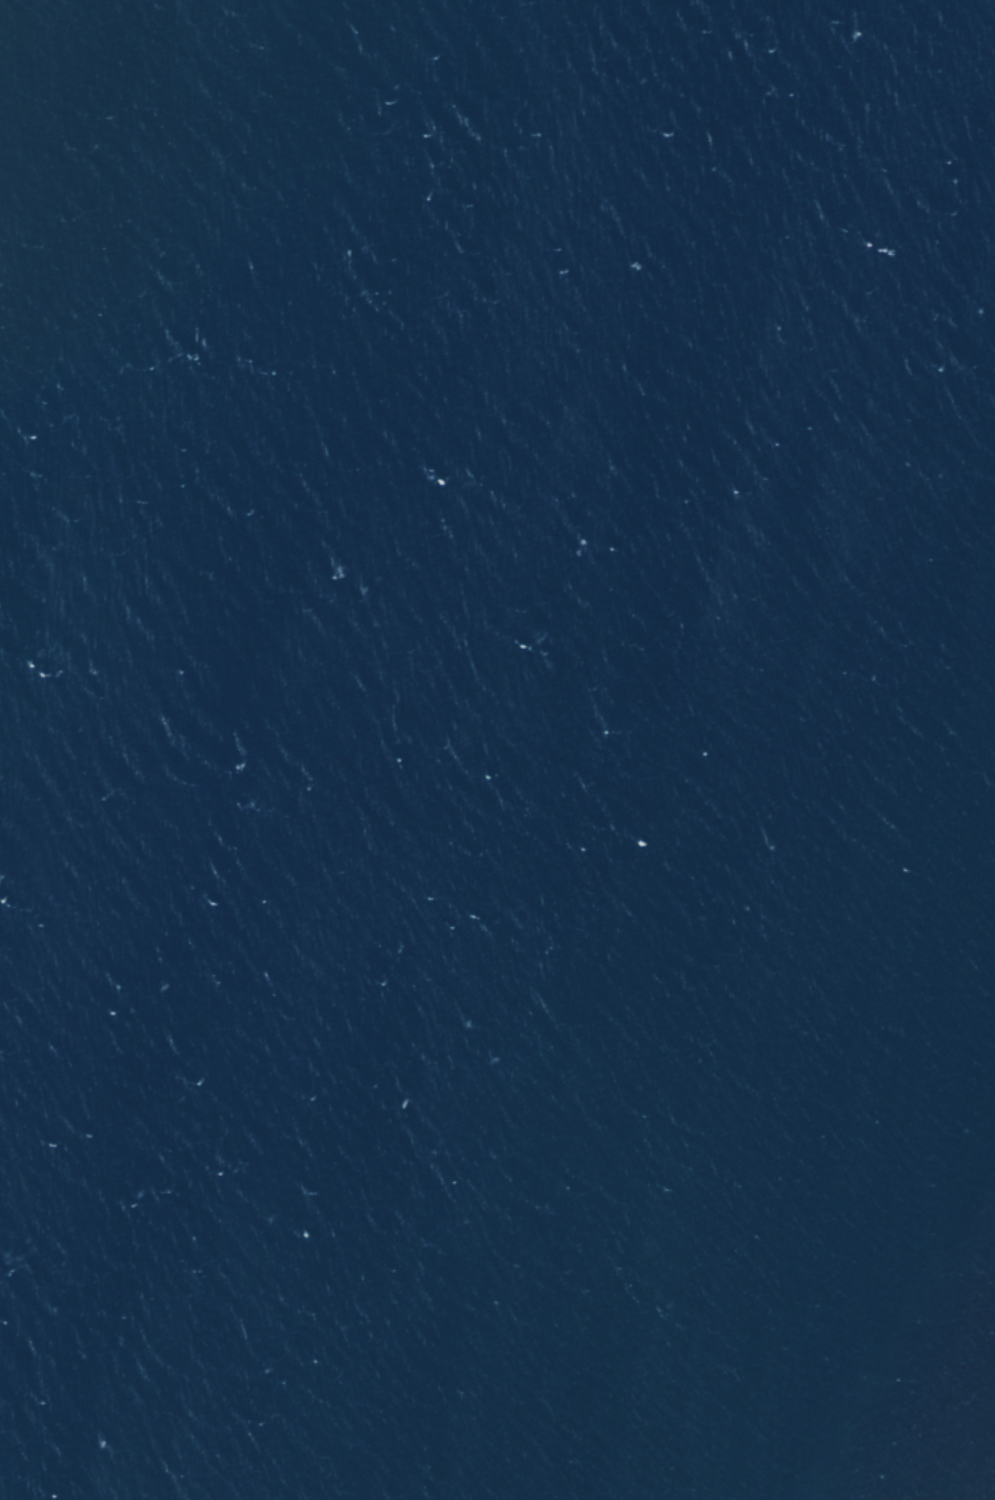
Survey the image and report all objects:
river: (471, 490)

